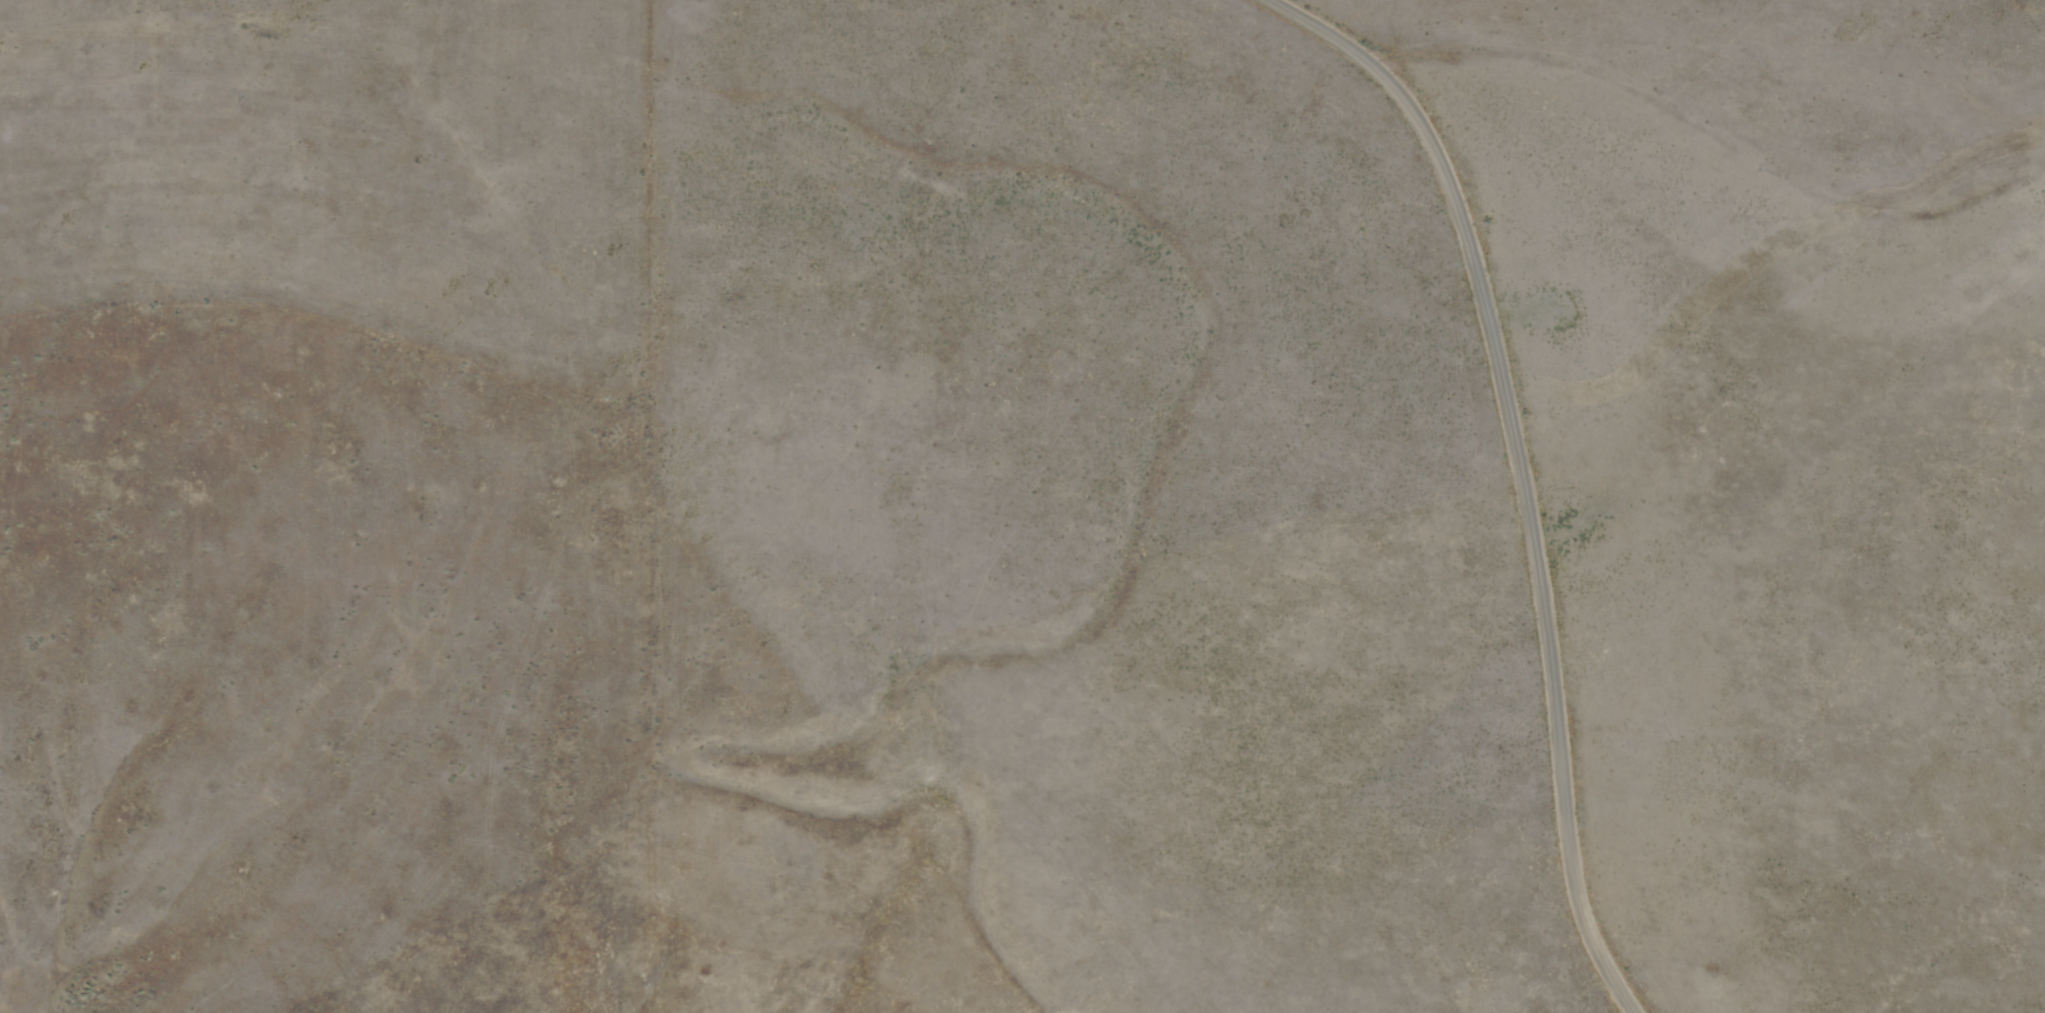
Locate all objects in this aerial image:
road: (1518, 474)

